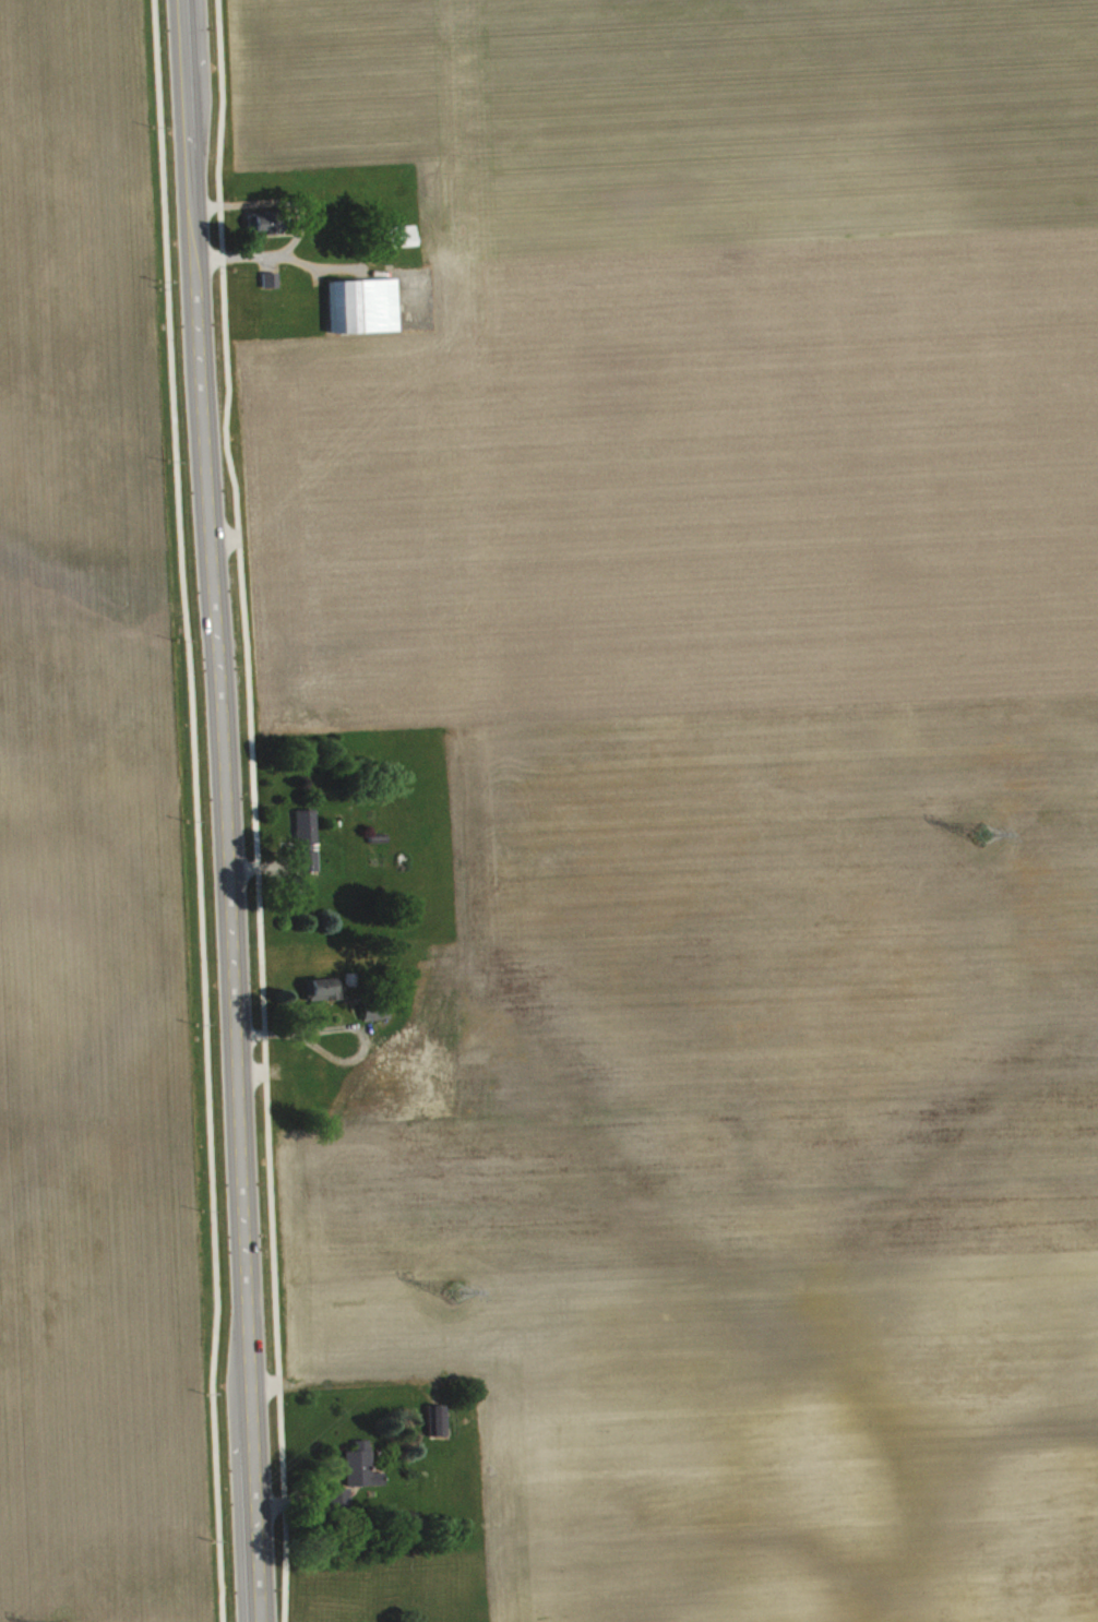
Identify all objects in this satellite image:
road: (298, 224)
building: (267, 229)
building: (405, 242)
building: (272, 287)
building: (366, 312)
road: (194, 810)
road: (224, 810)
road: (253, 810)
power tower: (980, 837)
building: (308, 847)
building: (302, 895)
building: (323, 997)
building: (378, 1021)
power tower: (453, 1293)
building: (440, 1428)
building: (363, 1474)

